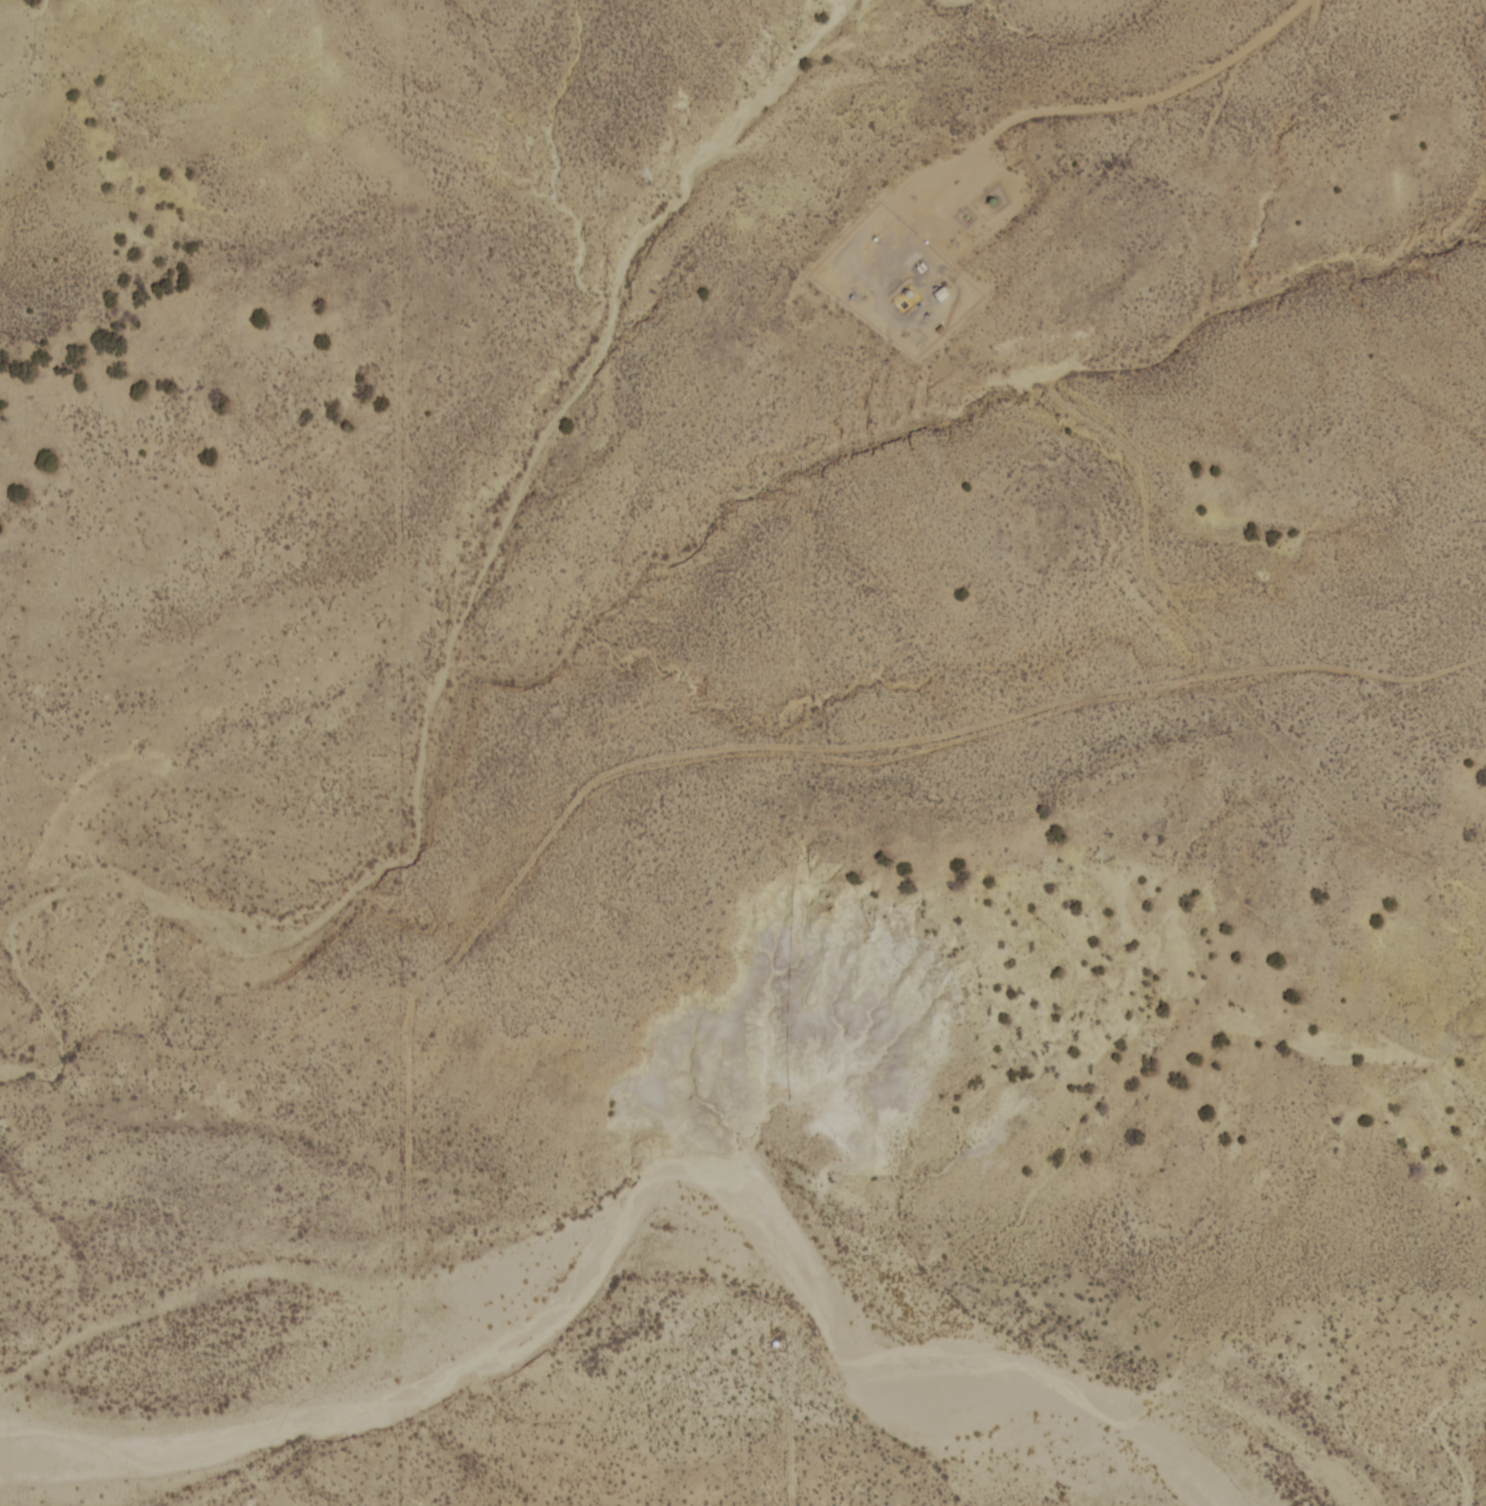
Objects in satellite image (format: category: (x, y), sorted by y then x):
river: (642, 1185)

